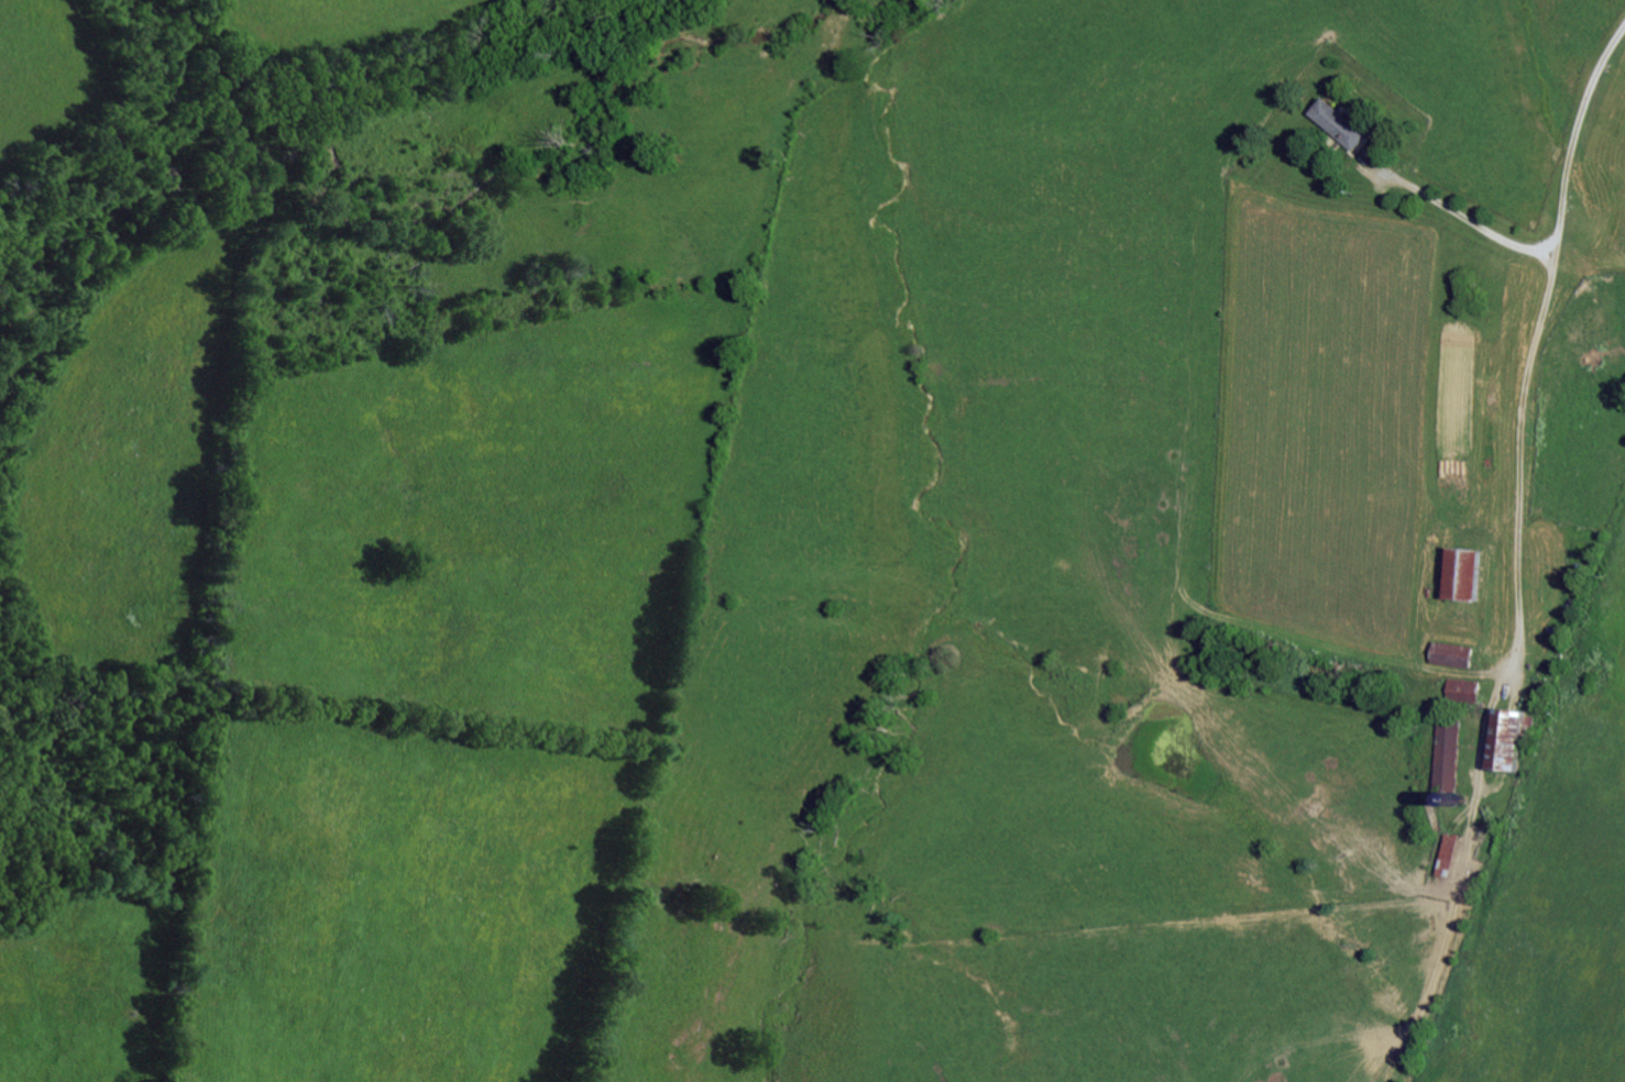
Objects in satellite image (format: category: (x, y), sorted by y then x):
building: (1335, 123)
road: (1460, 213)
road: (1531, 345)
building: (1458, 572)
building: (1448, 652)
building: (1459, 688)
building: (1504, 736)
building: (1442, 752)
road: (1540, 824)

